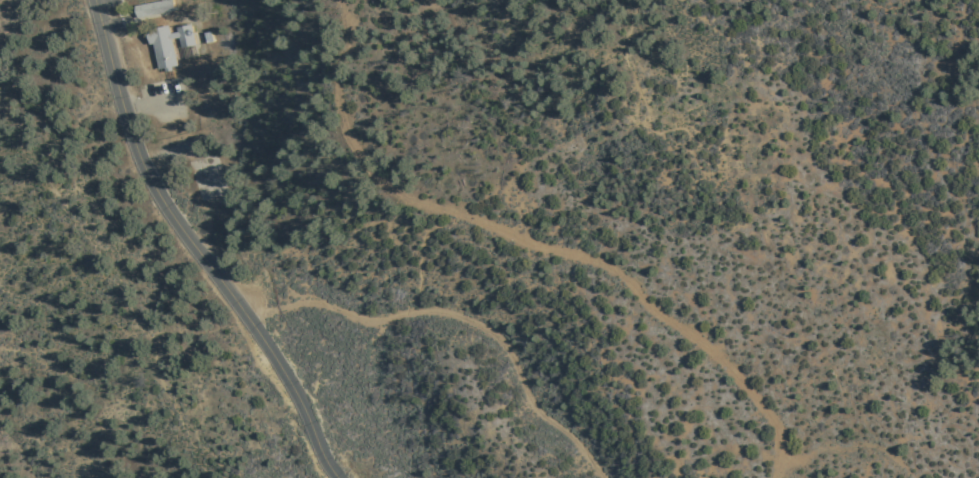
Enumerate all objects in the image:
building: (158, 7)
building: (169, 44)
road: (152, 102)
road: (532, 245)
road: (195, 249)
road: (458, 316)

